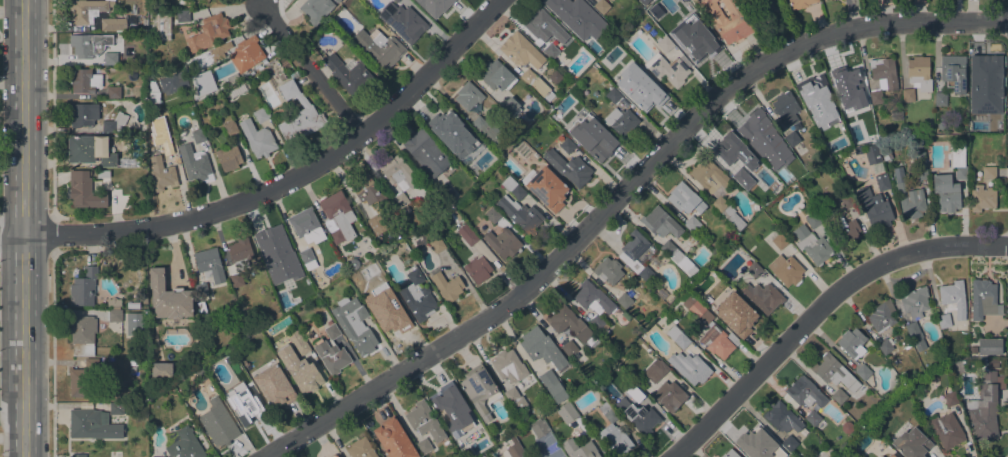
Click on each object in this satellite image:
building: (205, 1)
building: (337, 1)
building: (395, 1)
building: (800, 3)
building: (434, 4)
building: (173, 6)
building: (601, 6)
building: (572, 7)
building: (316, 9)
building: (769, 9)
building: (87, 10)
road: (288, 12)
building: (182, 16)
building: (695, 16)
building: (131, 20)
building: (728, 20)
building: (403, 21)
building: (113, 24)
building: (162, 26)
building: (574, 27)
building: (543, 31)
building: (208, 32)
building: (664, 43)
building: (86, 45)
building: (699, 50)
building: (383, 51)
building: (521, 51)
building: (214, 54)
building: (245, 55)
building: (110, 58)
building: (667, 69)
road: (311, 70)
building: (953, 72)
building: (638, 73)
building: (918, 73)
building: (349, 74)
building: (294, 75)
building: (984, 75)
building: (496, 76)
building: (882, 77)
building: (84, 81)
building: (850, 81)
building: (173, 83)
building: (201, 83)
building: (536, 84)
building: (113, 92)
building: (153, 93)
building: (817, 93)
building: (468, 95)
building: (613, 95)
building: (907, 95)
building: (646, 99)
building: (940, 99)
building: (510, 105)
building: (847, 107)
building: (786, 109)
building: (82, 114)
building: (261, 115)
building: (896, 115)
building: (298, 116)
building: (587, 118)
building: (622, 121)
building: (818, 122)
building: (114, 123)
building: (448, 124)
building: (758, 127)
building: (230, 128)
building: (488, 131)
building: (198, 136)
building: (791, 138)
building: (257, 139)
building: (567, 145)
building: (599, 146)
building: (169, 147)
building: (729, 148)
building: (453, 149)
building: (858, 149)
building: (89, 150)
building: (762, 152)
building: (426, 153)
building: (872, 154)
building: (229, 158)
building: (919, 161)
building: (958, 161)
building: (127, 162)
building: (194, 163)
building: (828, 164)
building: (541, 167)
building: (569, 168)
building: (988, 172)
building: (102, 173)
building: (161, 174)
building: (398, 176)
building: (709, 176)
building: (882, 182)
building: (749, 183)
road: (280, 185)
building: (513, 188)
building: (84, 190)
building: (368, 191)
building: (445, 191)
building: (946, 193)
road: (620, 195)
building: (553, 197)
building: (982, 198)
building: (847, 201)
building: (910, 201)
building: (684, 204)
building: (874, 208)
building: (406, 209)
building: (728, 212)
building: (492, 215)
building: (520, 215)
building: (455, 216)
building: (337, 217)
building: (812, 220)
building: (661, 223)
building: (377, 225)
road: (23, 228)
building: (845, 231)
building: (467, 234)
building: (307, 235)
building: (779, 241)
building: (503, 242)
building: (275, 243)
building: (437, 245)
building: (812, 245)
building: (240, 253)
building: (635, 255)
building: (678, 258)
building: (209, 264)
building: (354, 264)
building: (477, 269)
building: (754, 269)
building: (608, 270)
building: (785, 270)
building: (274, 277)
building: (447, 286)
building: (83, 289)
building: (201, 289)
building: (387, 291)
building: (417, 296)
building: (762, 296)
building: (168, 297)
building: (145, 298)
building: (953, 299)
building: (983, 299)
building: (624, 300)
building: (914, 302)
building: (114, 303)
building: (594, 304)
building: (202, 309)
road: (818, 309)
building: (696, 310)
building: (736, 314)
building: (115, 316)
building: (626, 316)
building: (882, 316)
building: (389, 319)
building: (943, 321)
building: (567, 323)
building: (135, 324)
building: (354, 324)
building: (82, 335)
building: (915, 336)
building: (677, 337)
building: (718, 341)
building: (298, 342)
building: (851, 343)
building: (906, 345)
building: (885, 346)
building: (989, 346)
building: (541, 348)
building: (569, 348)
building: (973, 350)
building: (332, 352)
building: (988, 363)
building: (509, 366)
building: (958, 366)
building: (689, 367)
building: (161, 370)
building: (299, 370)
building: (834, 372)
building: (863, 372)
building: (904, 375)
building: (84, 378)
building: (243, 381)
building: (274, 385)
building: (552, 386)
building: (672, 386)
building: (480, 390)
building: (636, 394)
building: (803, 394)
building: (839, 396)
building: (447, 397)
building: (514, 398)
building: (950, 398)
building: (118, 408)
building: (984, 408)
building: (566, 412)
building: (608, 412)
building: (246, 413)
building: (641, 418)
building: (782, 418)
building: (812, 418)
building: (424, 421)
building: (218, 423)
building: (92, 425)
building: (450, 426)
building: (847, 427)
building: (540, 429)
building: (946, 430)
building: (394, 439)
building: (754, 440)
building: (616, 441)
building: (790, 442)
building: (911, 443)
building: (185, 445)
building: (423, 447)
building: (361, 449)
building: (579, 449)
building: (514, 450)
building: (729, 454)
building: (78, 455)
building: (846, 455)
building: (891, 455)
building: (333, 456)
building: (881, 456)

